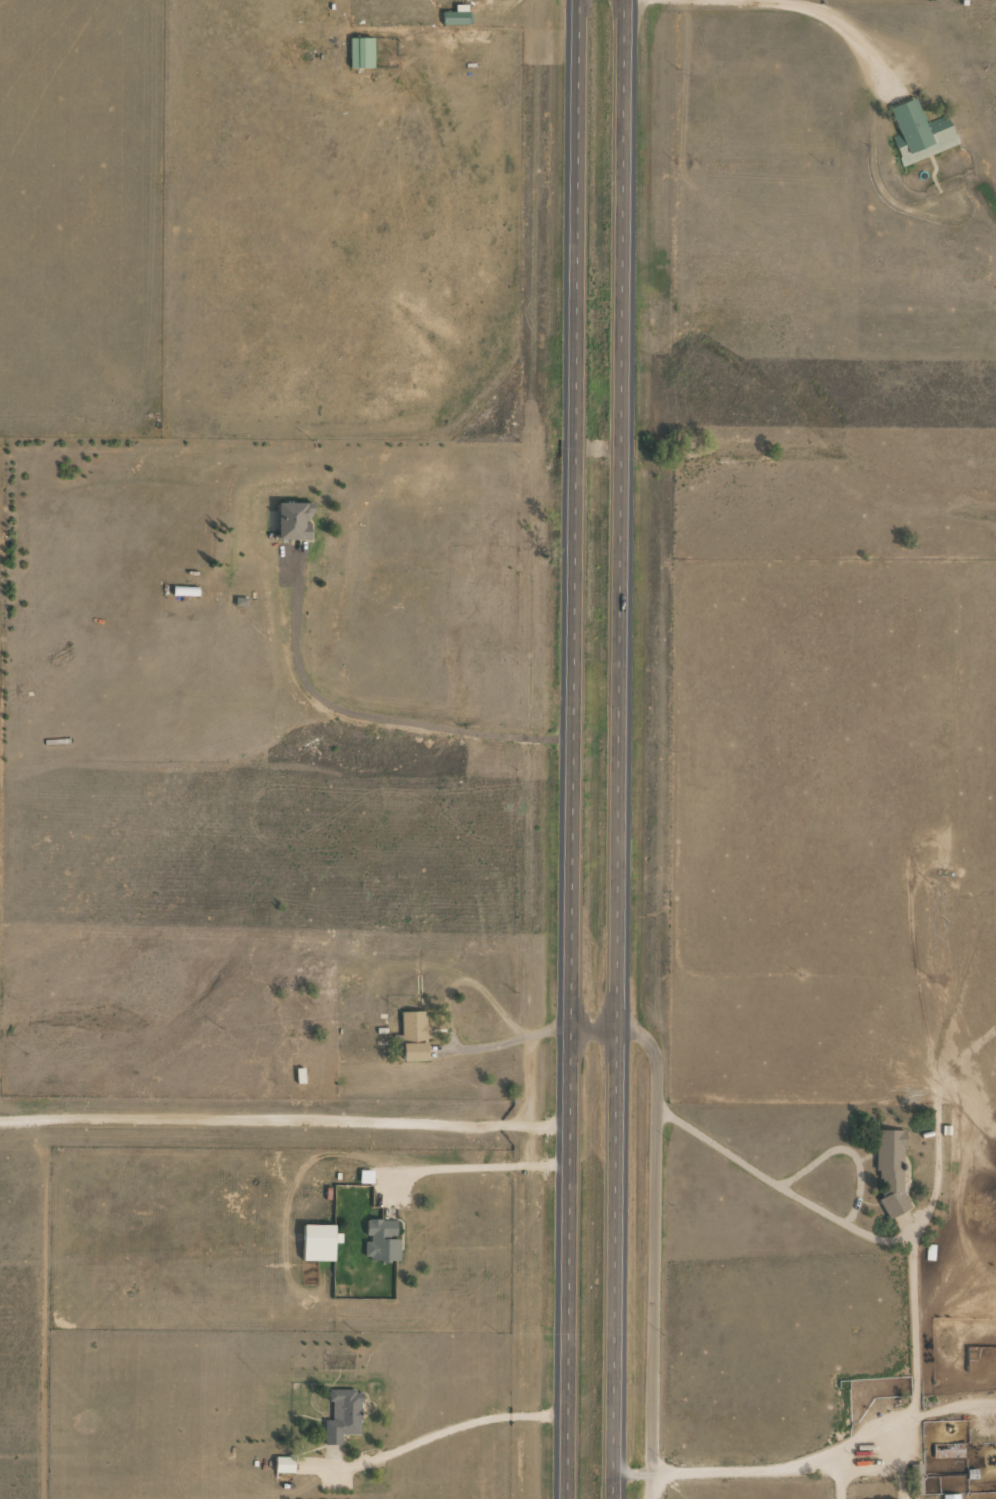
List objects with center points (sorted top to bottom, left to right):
building: (360, 53)
building: (921, 133)
building: (295, 521)
building: (185, 592)
road: (569, 749)
road: (611, 749)
building: (314, 968)
building: (350, 982)
building: (413, 1036)
building: (891, 1172)
building: (382, 1240)
road: (892, 1333)
building: (343, 1416)
building: (947, 1451)
building: (284, 1465)
building: (951, 1497)

